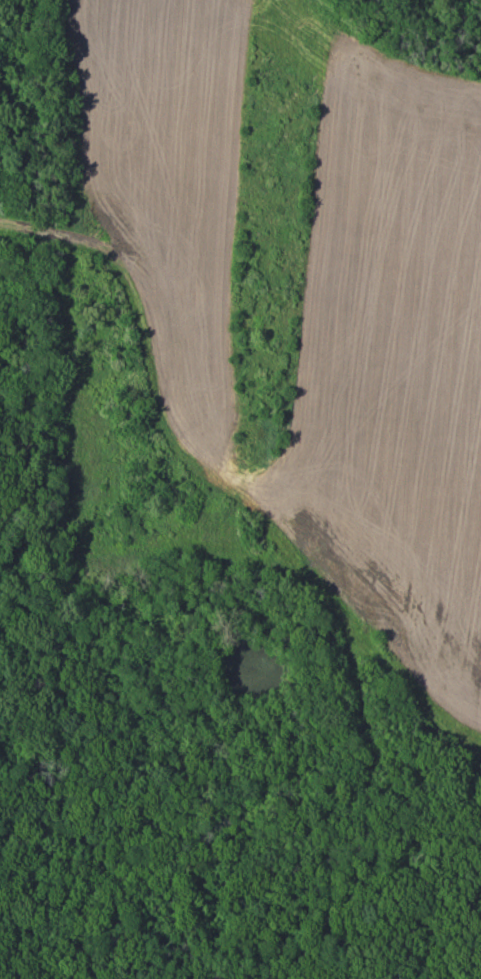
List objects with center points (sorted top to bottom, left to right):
park: (240, 489)

